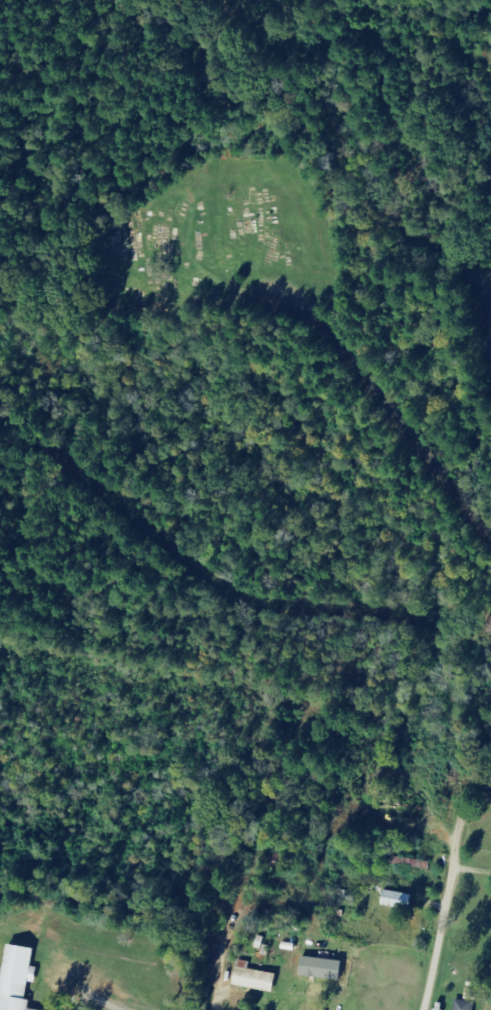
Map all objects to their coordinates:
park: (214, 233)
road: (404, 440)
building: (401, 900)
road: (442, 912)
building: (325, 968)
road: (75, 970)
building: (21, 978)
building: (257, 978)
building: (464, 1005)

